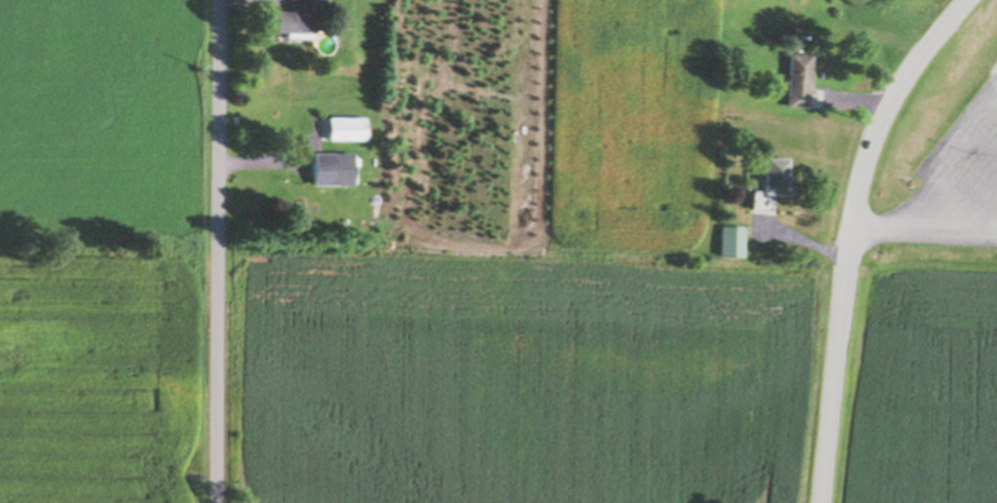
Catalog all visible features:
building: (314, 3)
building: (294, 21)
building: (799, 79)
building: (348, 127)
park: (943, 161)
building: (334, 167)
building: (775, 177)
road: (924, 228)
road: (850, 236)
building: (731, 241)
building: (778, 248)
road: (218, 251)
crop: (94, 380)
crop: (519, 380)
crop: (923, 388)

